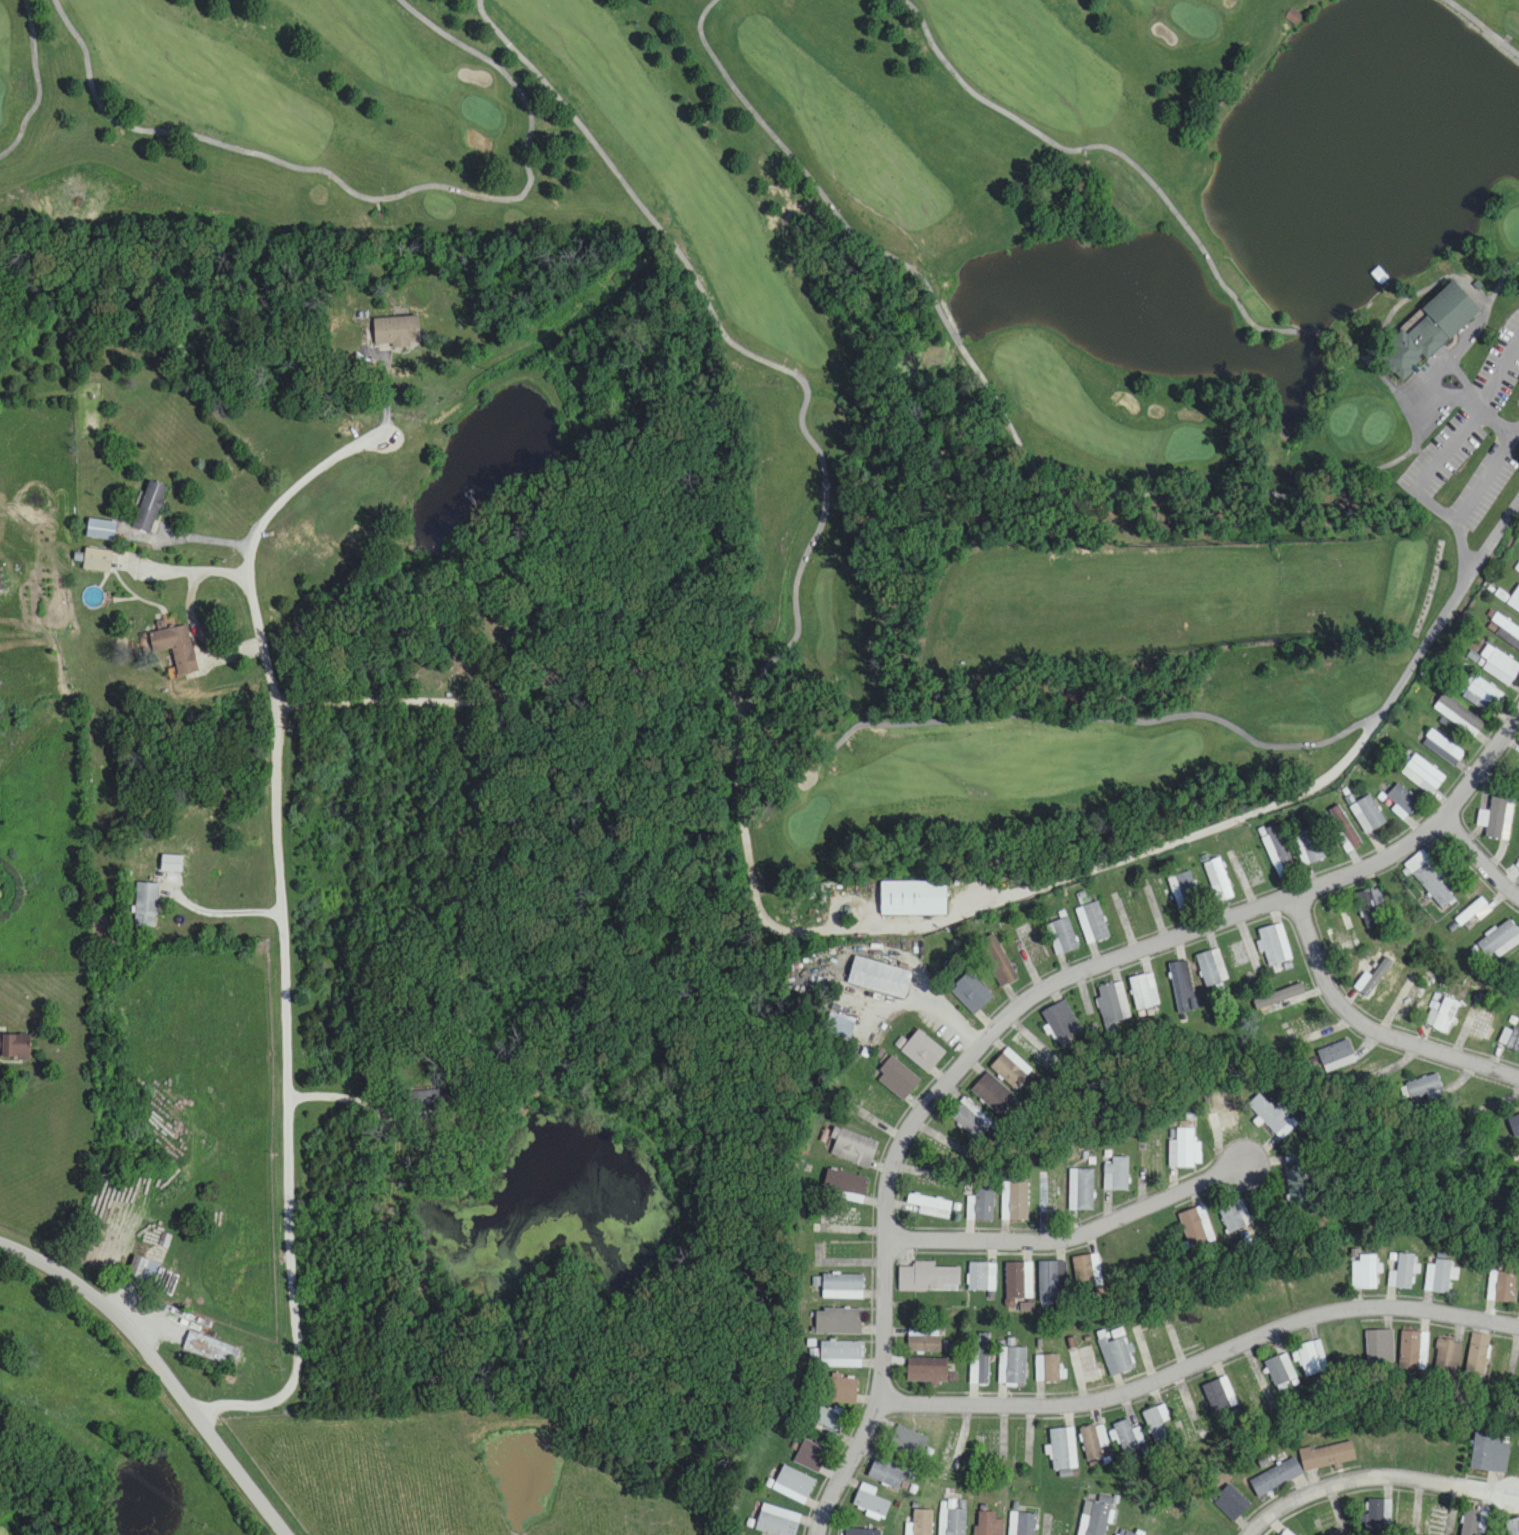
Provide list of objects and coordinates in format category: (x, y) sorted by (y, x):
building: (1290, 13)
road: (1483, 27)
road: (39, 84)
road: (1111, 147)
road: (376, 197)
building: (377, 210)
building: (1378, 272)
road: (1501, 281)
building: (395, 329)
building: (1426, 330)
road: (1359, 353)
road: (988, 383)
building: (1461, 425)
building: (149, 507)
building: (101, 529)
building: (96, 559)
road: (186, 565)
road: (1428, 583)
building: (1515, 600)
building: (1507, 630)
building: (174, 648)
building: (1499, 665)
road: (766, 671)
building: (1482, 695)
building: (1460, 716)
building: (1443, 748)
building: (1423, 775)
building: (1400, 802)
building: (1368, 815)
building: (1493, 819)
building: (1344, 832)
building: (1308, 847)
building: (1277, 852)
road: (1476, 856)
building: (1517, 867)
building: (1248, 871)
road: (1056, 877)
building: (1218, 880)
building: (1430, 881)
building: (1184, 890)
building: (910, 895)
building: (1156, 898)
building: (146, 906)
building: (1371, 907)
building: (1474, 913)
road: (218, 914)
building: (1092, 923)
road: (284, 924)
building: (1336, 924)
building: (1062, 936)
building: (1499, 941)
building: (1034, 944)
building: (1274, 945)
building: (1242, 953)
building: (997, 961)
building: (1212, 968)
building: (878, 977)
building: (1374, 977)
road: (1036, 986)
building: (1182, 987)
building: (1144, 991)
building: (970, 993)
building: (1279, 1000)
building: (1113, 1002)
building: (1442, 1014)
building: (1062, 1022)
road: (1369, 1024)
building: (840, 1025)
building: (1480, 1025)
building: (1305, 1029)
building: (1510, 1039)
building: (14, 1047)
building: (1035, 1050)
building: (922, 1051)
building: (1337, 1056)
building: (1008, 1071)
building: (1370, 1071)
building: (897, 1078)
building: (1421, 1087)
road: (338, 1091)
building: (990, 1095)
building: (1222, 1112)
building: (1271, 1116)
building: (970, 1119)
building: (854, 1148)
building: (948, 1148)
building: (1183, 1150)
building: (1117, 1174)
building: (1299, 1181)
building: (844, 1186)
building: (1082, 1190)
building: (1049, 1200)
building: (1016, 1202)
building: (981, 1204)
building: (931, 1206)
building: (1237, 1217)
building: (844, 1222)
building: (1197, 1229)
road: (1074, 1232)
building: (842, 1251)
building: (1404, 1271)
building: (143, 1272)
building: (1088, 1272)
building: (1364, 1273)
building: (1441, 1276)
building: (928, 1278)
building: (982, 1278)
building: (1018, 1281)
building: (1049, 1283)
building: (842, 1287)
building: (1501, 1287)
building: (838, 1322)
building: (1184, 1333)
building: (923, 1341)
building: (1152, 1346)
building: (1379, 1346)
building: (1410, 1349)
building: (211, 1350)
building: (840, 1355)
building: (1447, 1355)
building: (1116, 1356)
road: (1201, 1356)
building: (1477, 1356)
building: (1312, 1358)
building: (981, 1362)
road: (166, 1364)
building: (1015, 1366)
building: (1085, 1366)
building: (1048, 1370)
building: (1281, 1370)
building: (927, 1371)
building: (1253, 1387)
building: (839, 1390)
building: (1219, 1394)
building: (1184, 1410)
building: (1155, 1421)
building: (827, 1422)
building: (1128, 1436)
building: (1093, 1441)
building: (908, 1442)
building: (996, 1445)
building: (1063, 1448)
building: (1490, 1452)
building: (953, 1453)
building: (1327, 1455)
building: (810, 1456)
building: (887, 1471)
road: (1374, 1474)
building: (1276, 1477)
building: (793, 1485)
building: (871, 1501)
building: (1231, 1502)
road: (820, 1512)
building: (1378, 1515)
building: (1408, 1517)
building: (1095, 1518)
building: (1439, 1520)
building: (954, 1521)
building: (777, 1522)
building: (922, 1522)
building: (1339, 1522)
building: (1474, 1522)
building: (988, 1523)
building: (1023, 1523)
building: (865, 1531)
building: (1127, 1532)
building: (1287, 1533)

